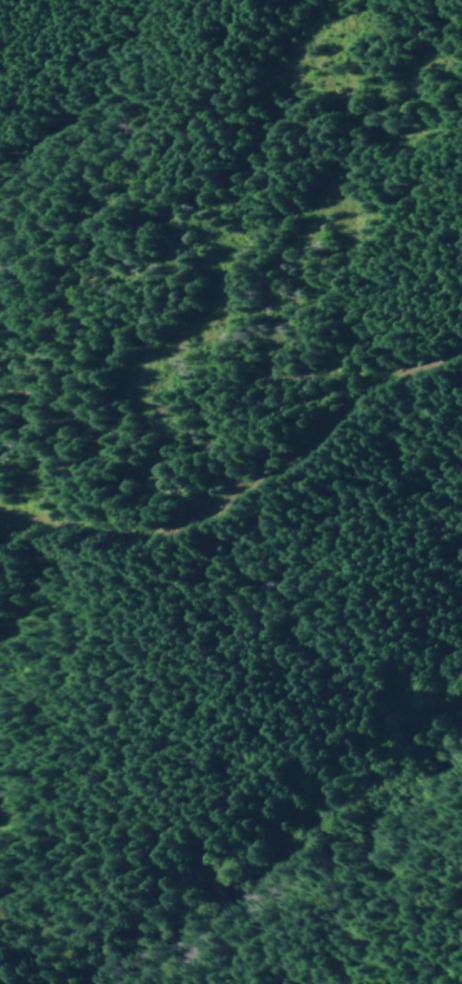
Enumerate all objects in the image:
road: (247, 491)

